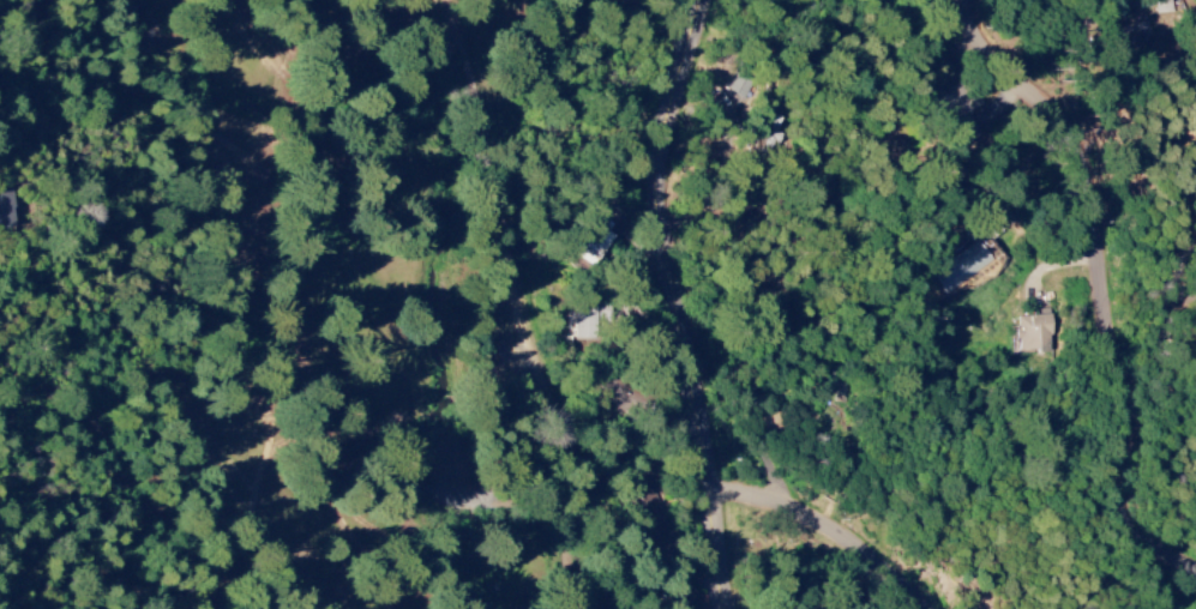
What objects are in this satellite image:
building: (1131, 34)
building: (737, 88)
building: (948, 101)
building: (5, 211)
road: (509, 254)
road: (1108, 277)
road: (683, 302)
park: (319, 304)
building: (581, 322)
building: (1030, 332)
road: (833, 527)

